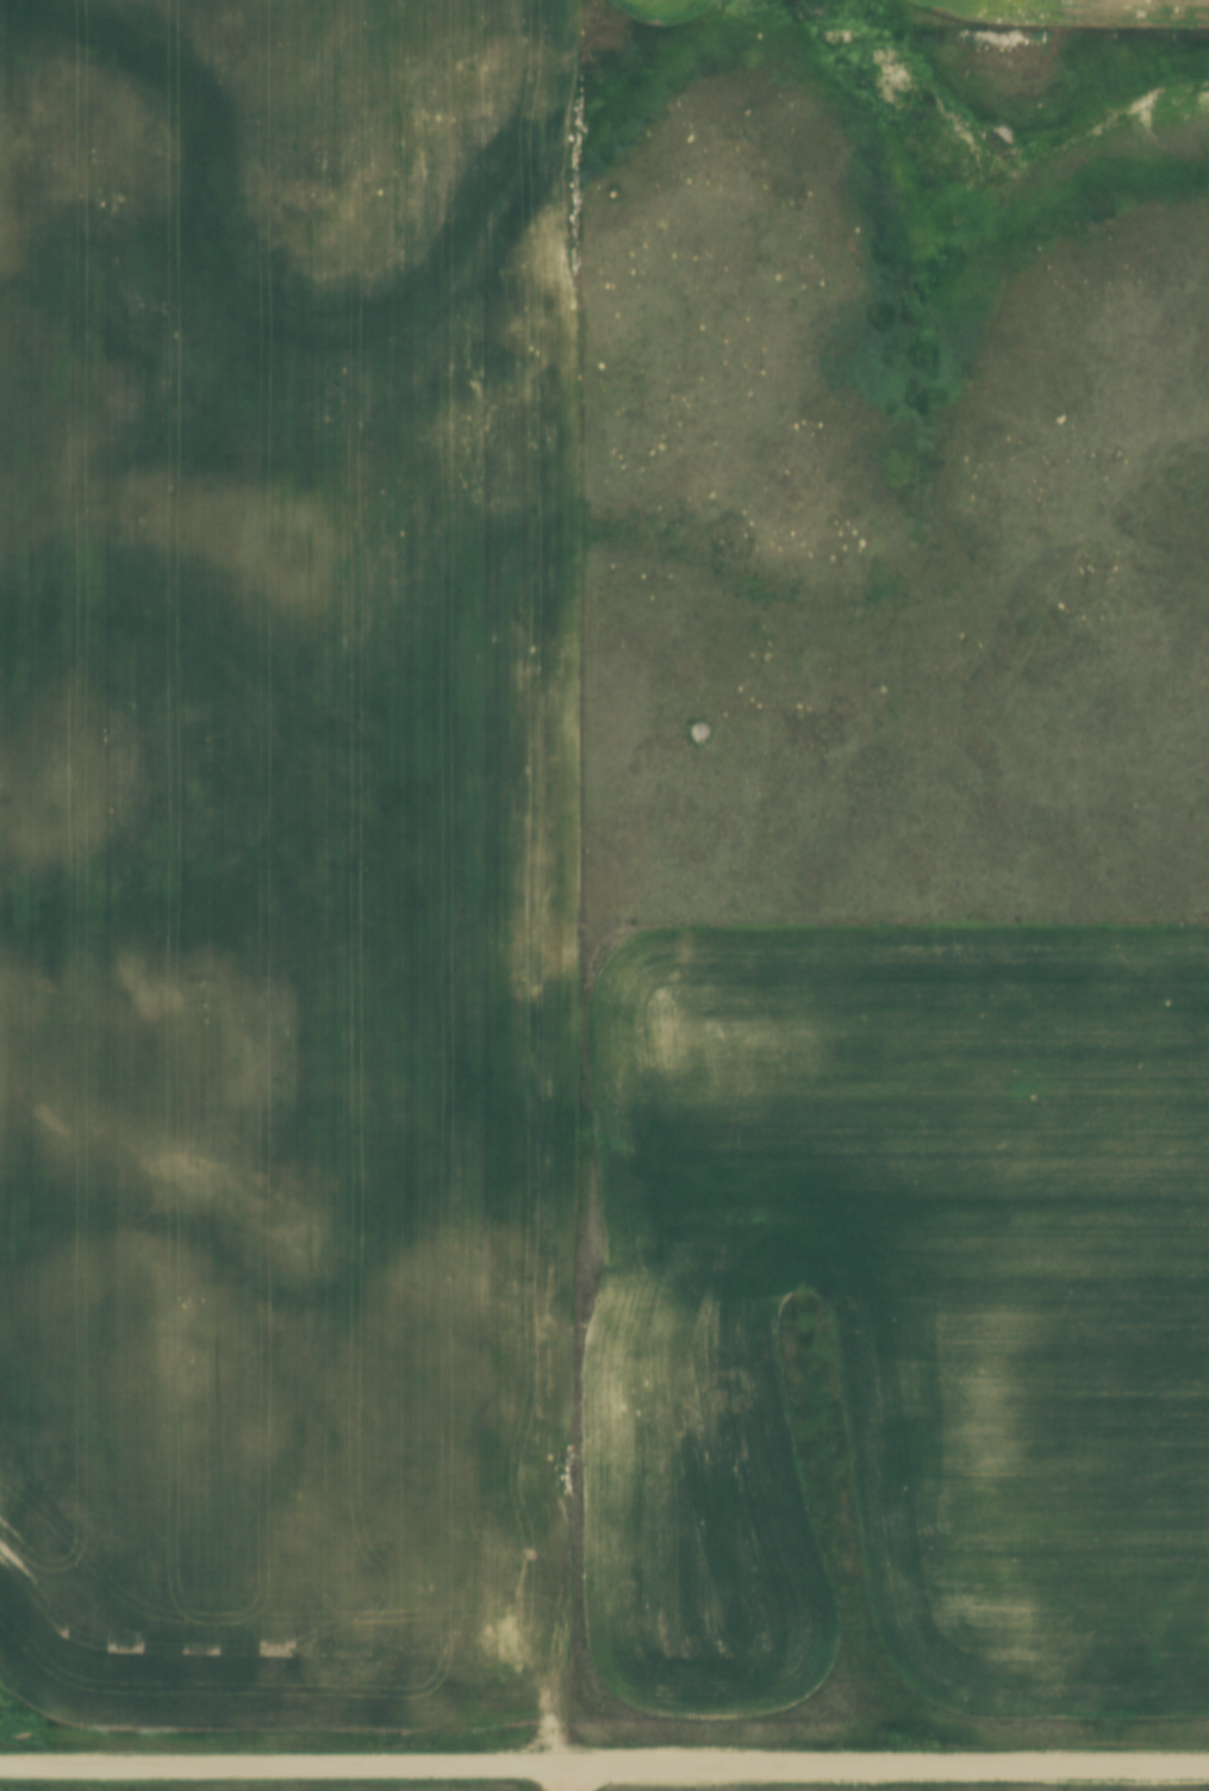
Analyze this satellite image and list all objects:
road: (604, 1771)
road: (561, 1780)

